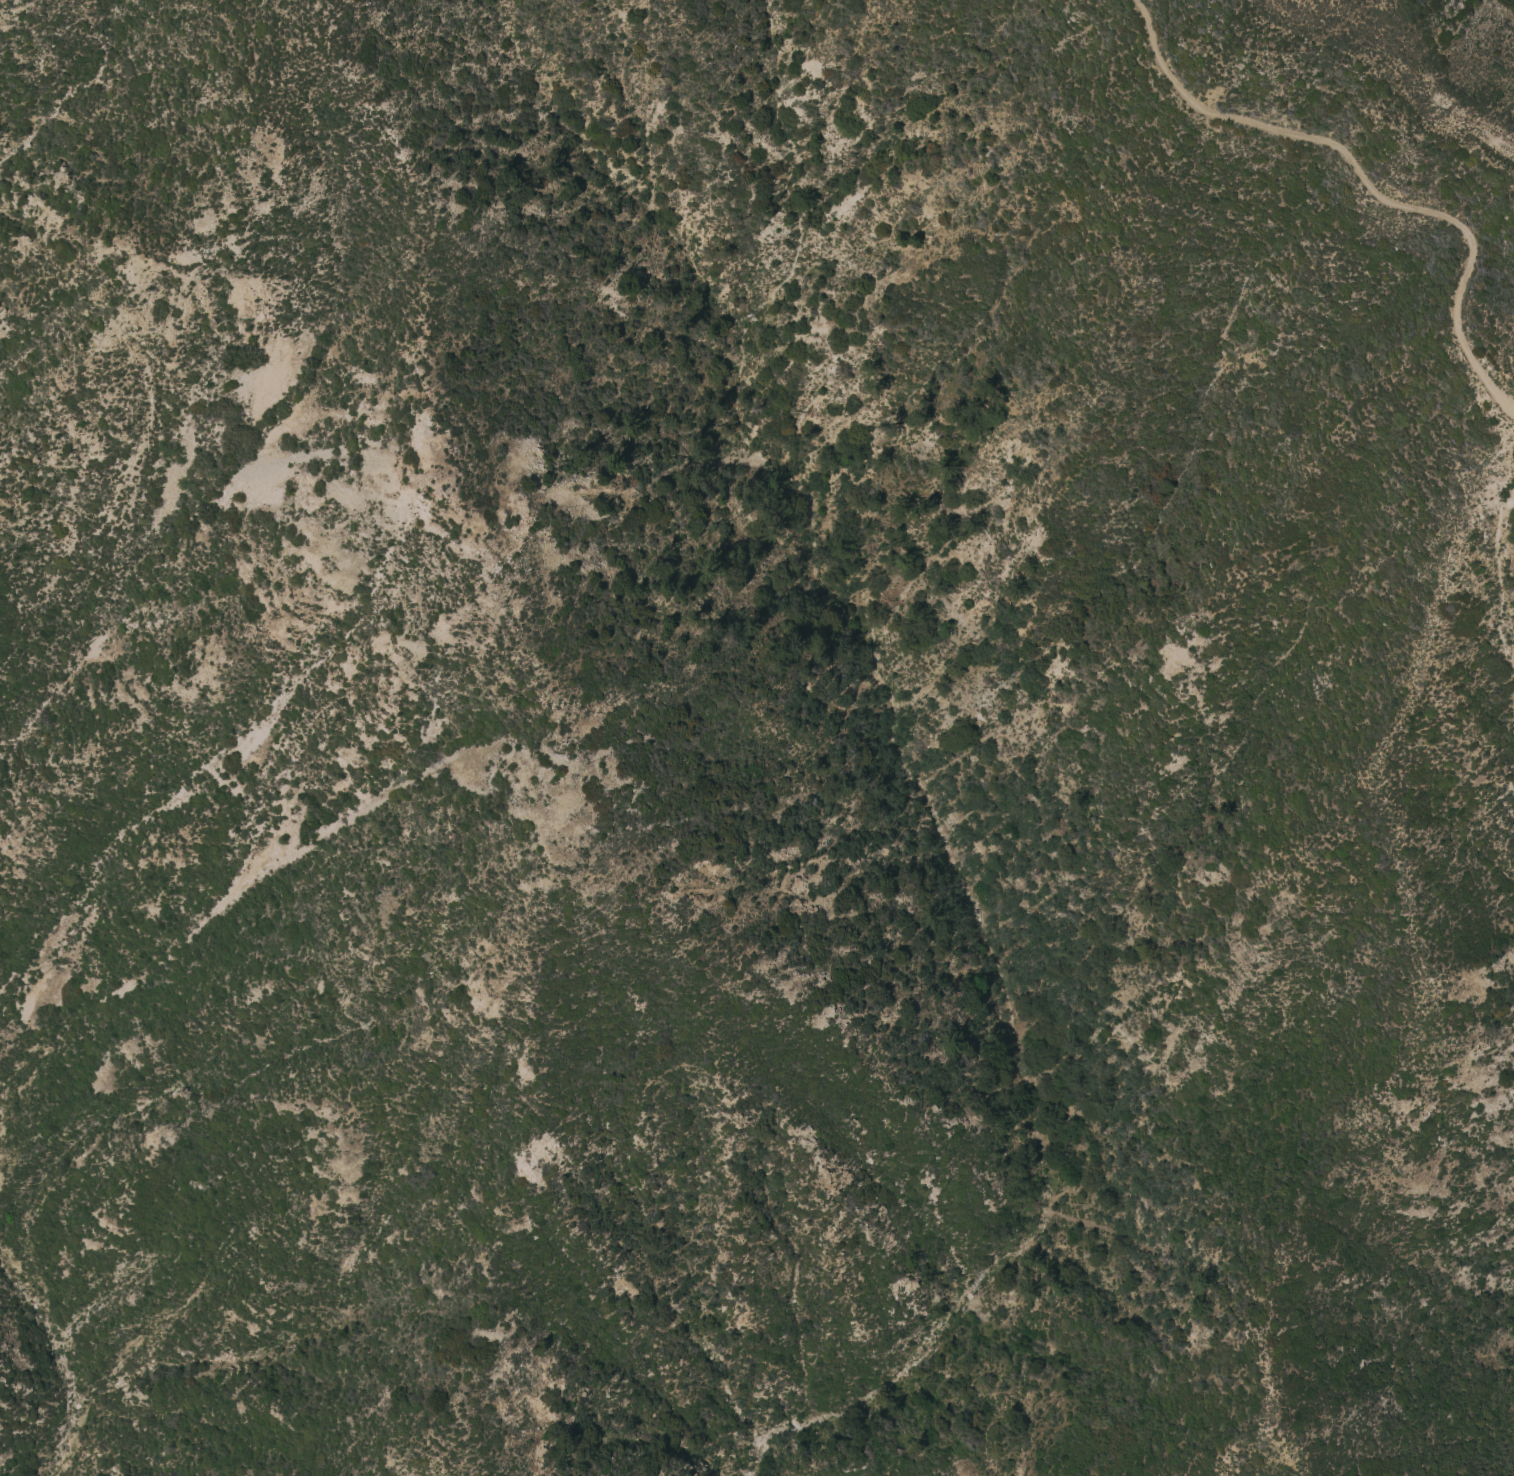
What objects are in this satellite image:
road: (1368, 180)

